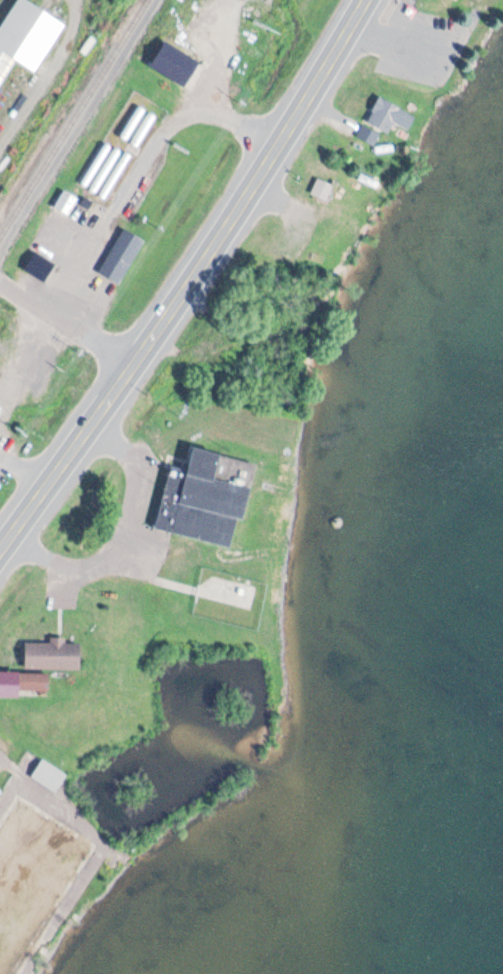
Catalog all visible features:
building: (454, 0)
building: (26, 36)
building: (390, 116)
railway: (75, 119)
building: (372, 140)
road: (139, 169)
building: (323, 190)
building: (65, 200)
building: (121, 254)
building: (39, 264)
road: (188, 279)
road: (67, 323)
road: (29, 363)
road: (23, 472)
building: (200, 494)
road: (115, 537)
building: (53, 652)
building: (33, 679)
building: (49, 773)

